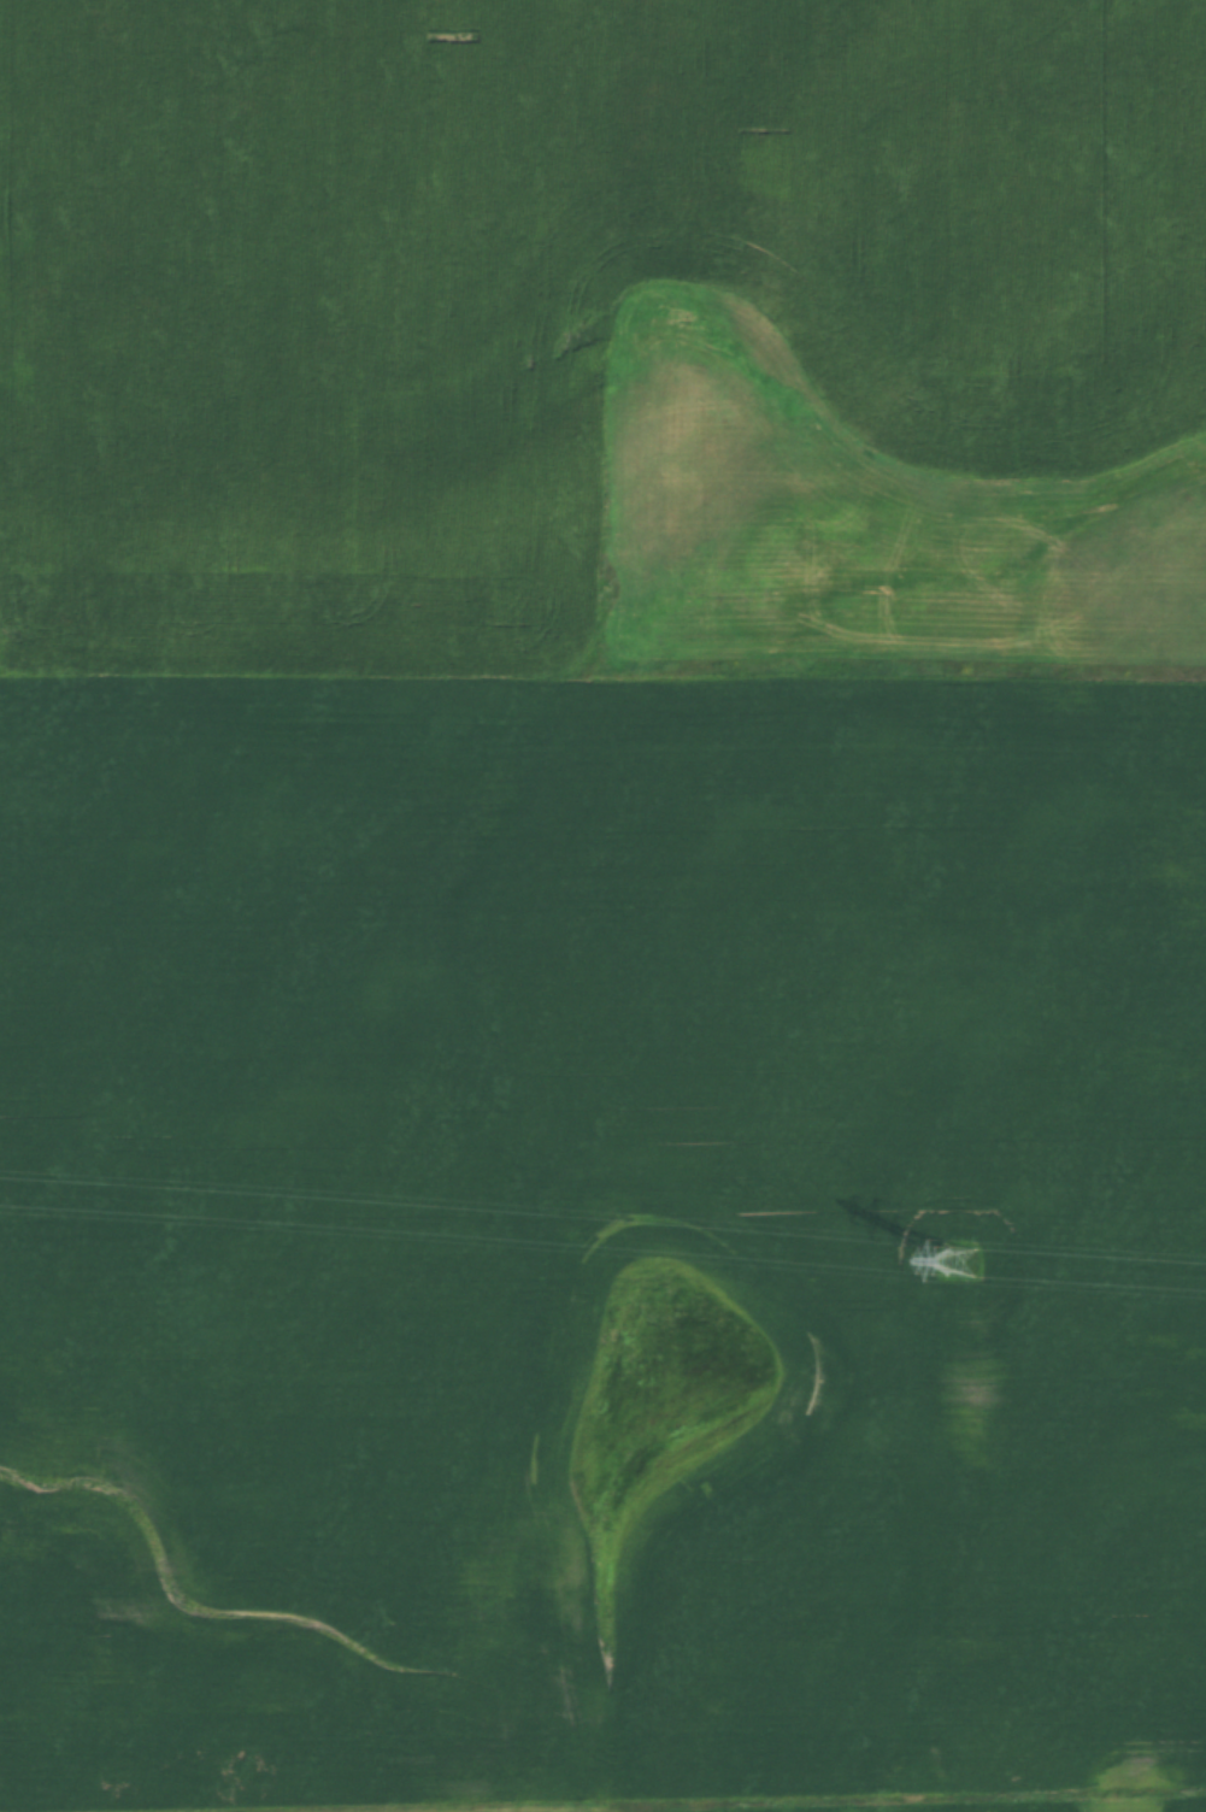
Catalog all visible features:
power tower: (961, 1265)
river: (661, 1448)

